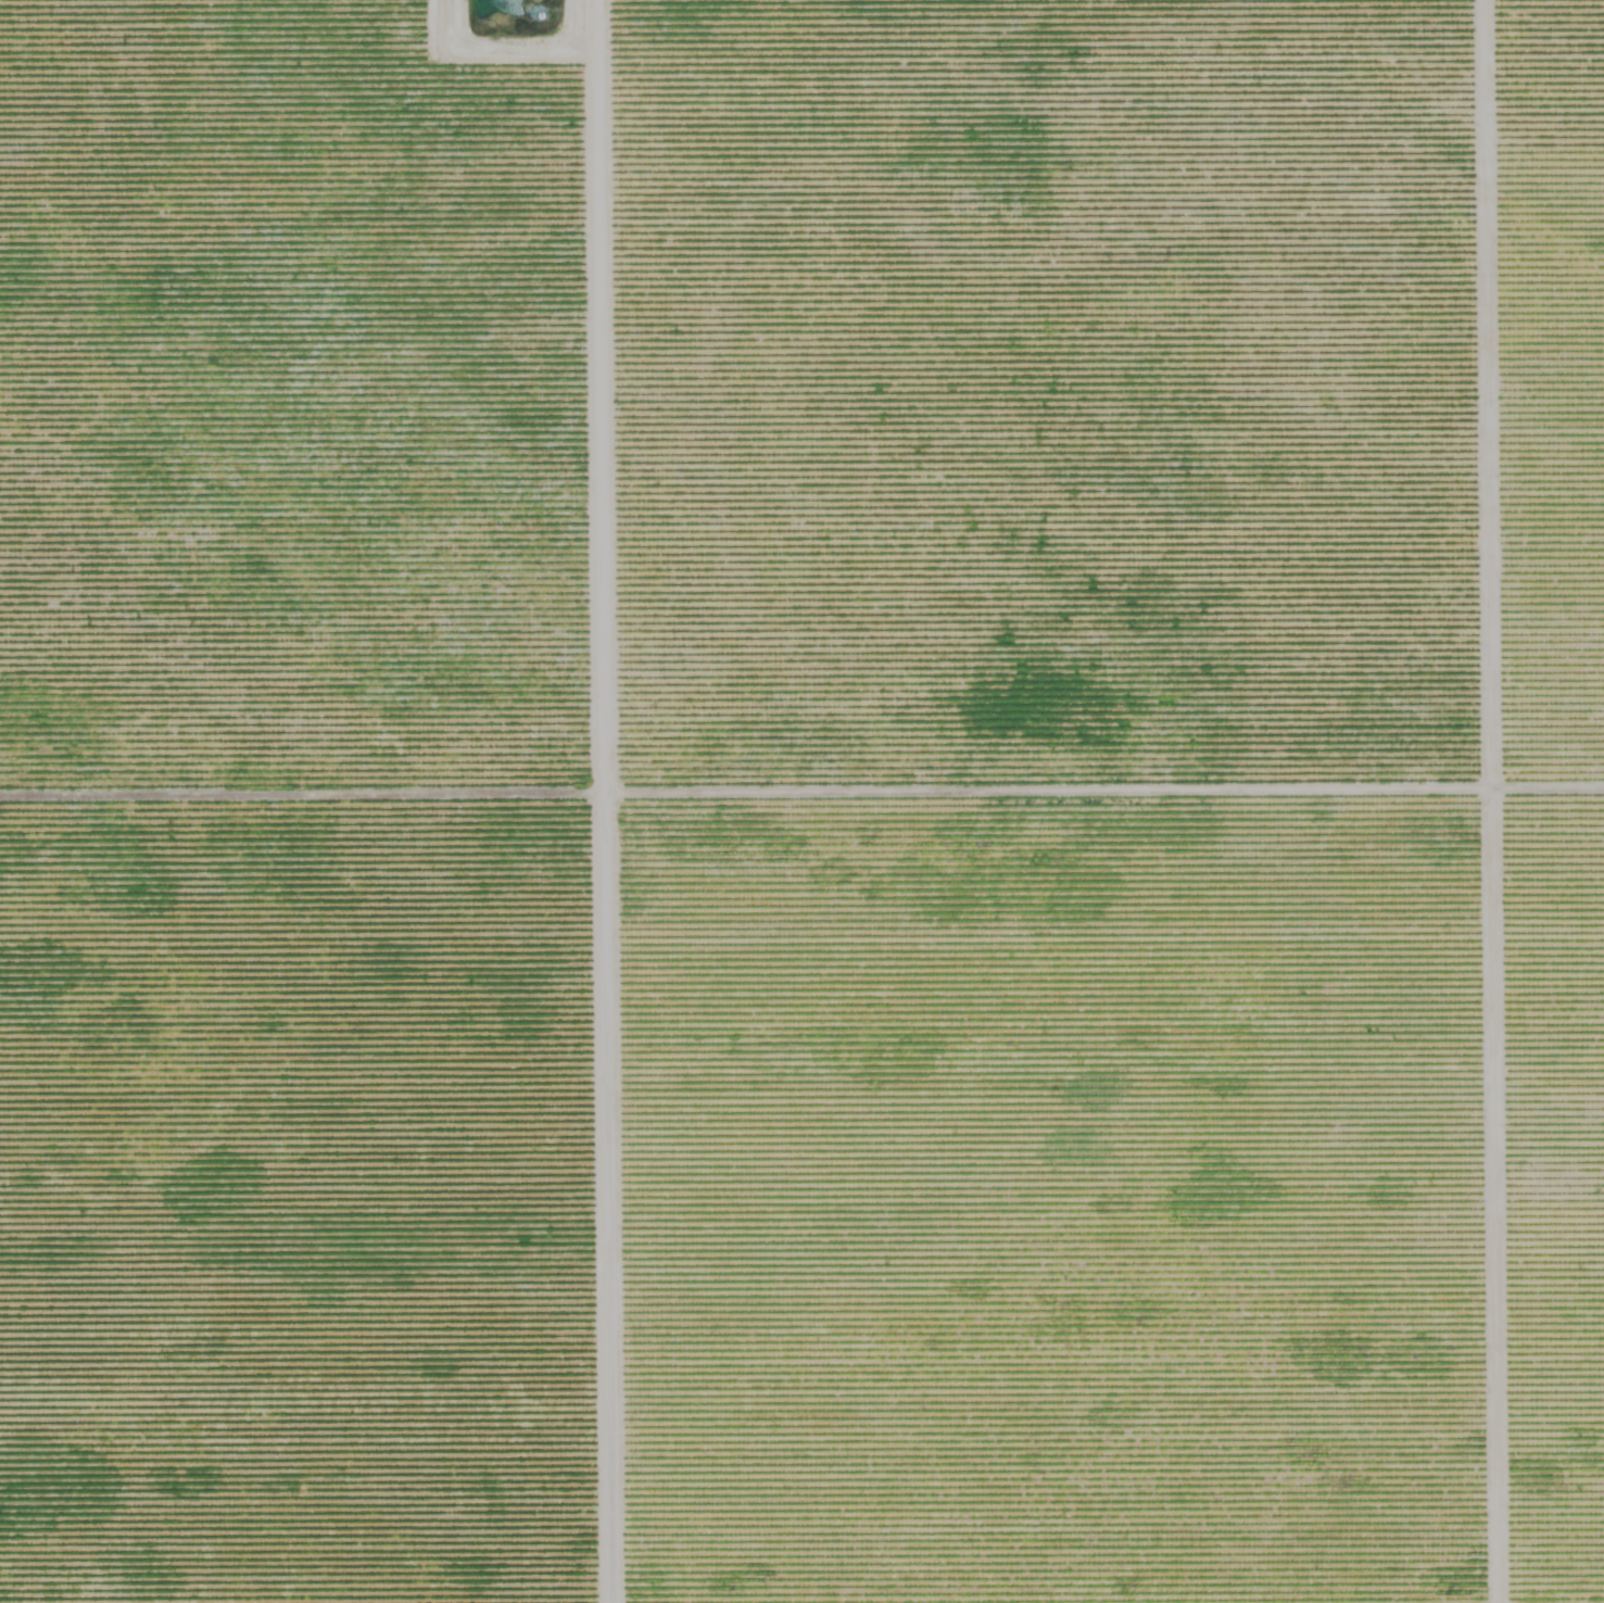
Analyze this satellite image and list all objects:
road: (606, 384)
road: (801, 773)

